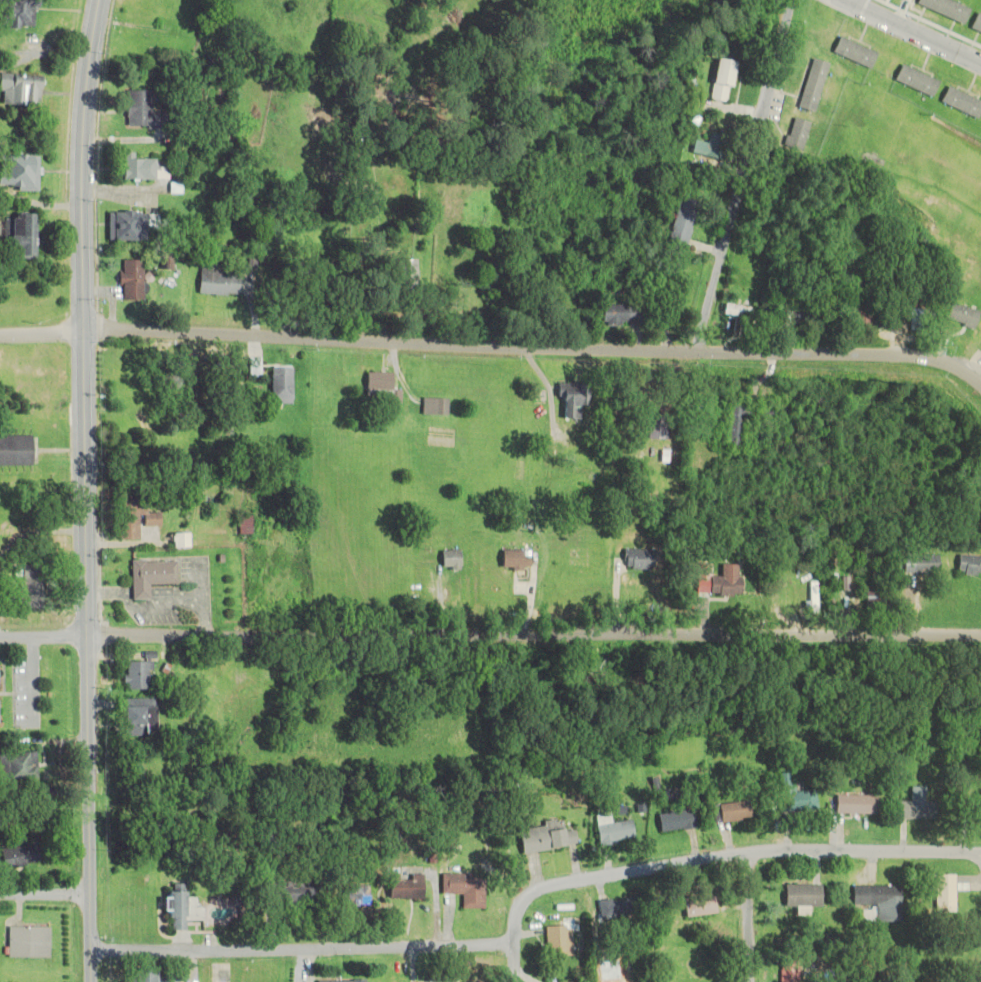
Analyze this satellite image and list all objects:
building: (945, 9)
building: (16, 13)
building: (975, 24)
road: (907, 33)
building: (853, 52)
building: (914, 80)
building: (719, 81)
building: (811, 85)
building: (17, 90)
building: (961, 102)
building: (141, 111)
building: (796, 134)
building: (708, 147)
building: (670, 151)
building: (139, 168)
building: (16, 172)
road: (742, 175)
building: (680, 222)
building: (131, 226)
building: (18, 236)
building: (130, 279)
building: (214, 280)
building: (616, 314)
building: (961, 315)
building: (798, 319)
building: (861, 319)
building: (737, 320)
road: (41, 332)
road: (535, 345)
building: (279, 385)
building: (379, 386)
building: (569, 399)
building: (433, 407)
building: (741, 422)
building: (654, 426)
building: (15, 451)
building: (977, 483)
road: (83, 490)
building: (132, 519)
building: (176, 541)
building: (448, 559)
building: (638, 559)
building: (919, 564)
building: (968, 565)
building: (148, 577)
building: (27, 580)
building: (723, 582)
road: (532, 634)
road: (42, 637)
building: (133, 676)
building: (133, 717)
building: (16, 767)
building: (793, 797)
building: (854, 805)
building: (913, 811)
building: (965, 811)
building: (731, 812)
building: (672, 821)
building: (609, 830)
building: (543, 838)
building: (17, 857)
building: (403, 888)
building: (462, 889)
road: (44, 892)
building: (286, 893)
building: (943, 895)
building: (801, 896)
building: (349, 900)
road: (520, 901)
building: (878, 901)
building: (698, 907)
building: (179, 909)
building: (614, 909)
road: (746, 917)
building: (556, 941)
building: (27, 942)
road: (511, 963)
building: (788, 972)
building: (148, 977)
building: (340, 981)
building: (429, 981)

